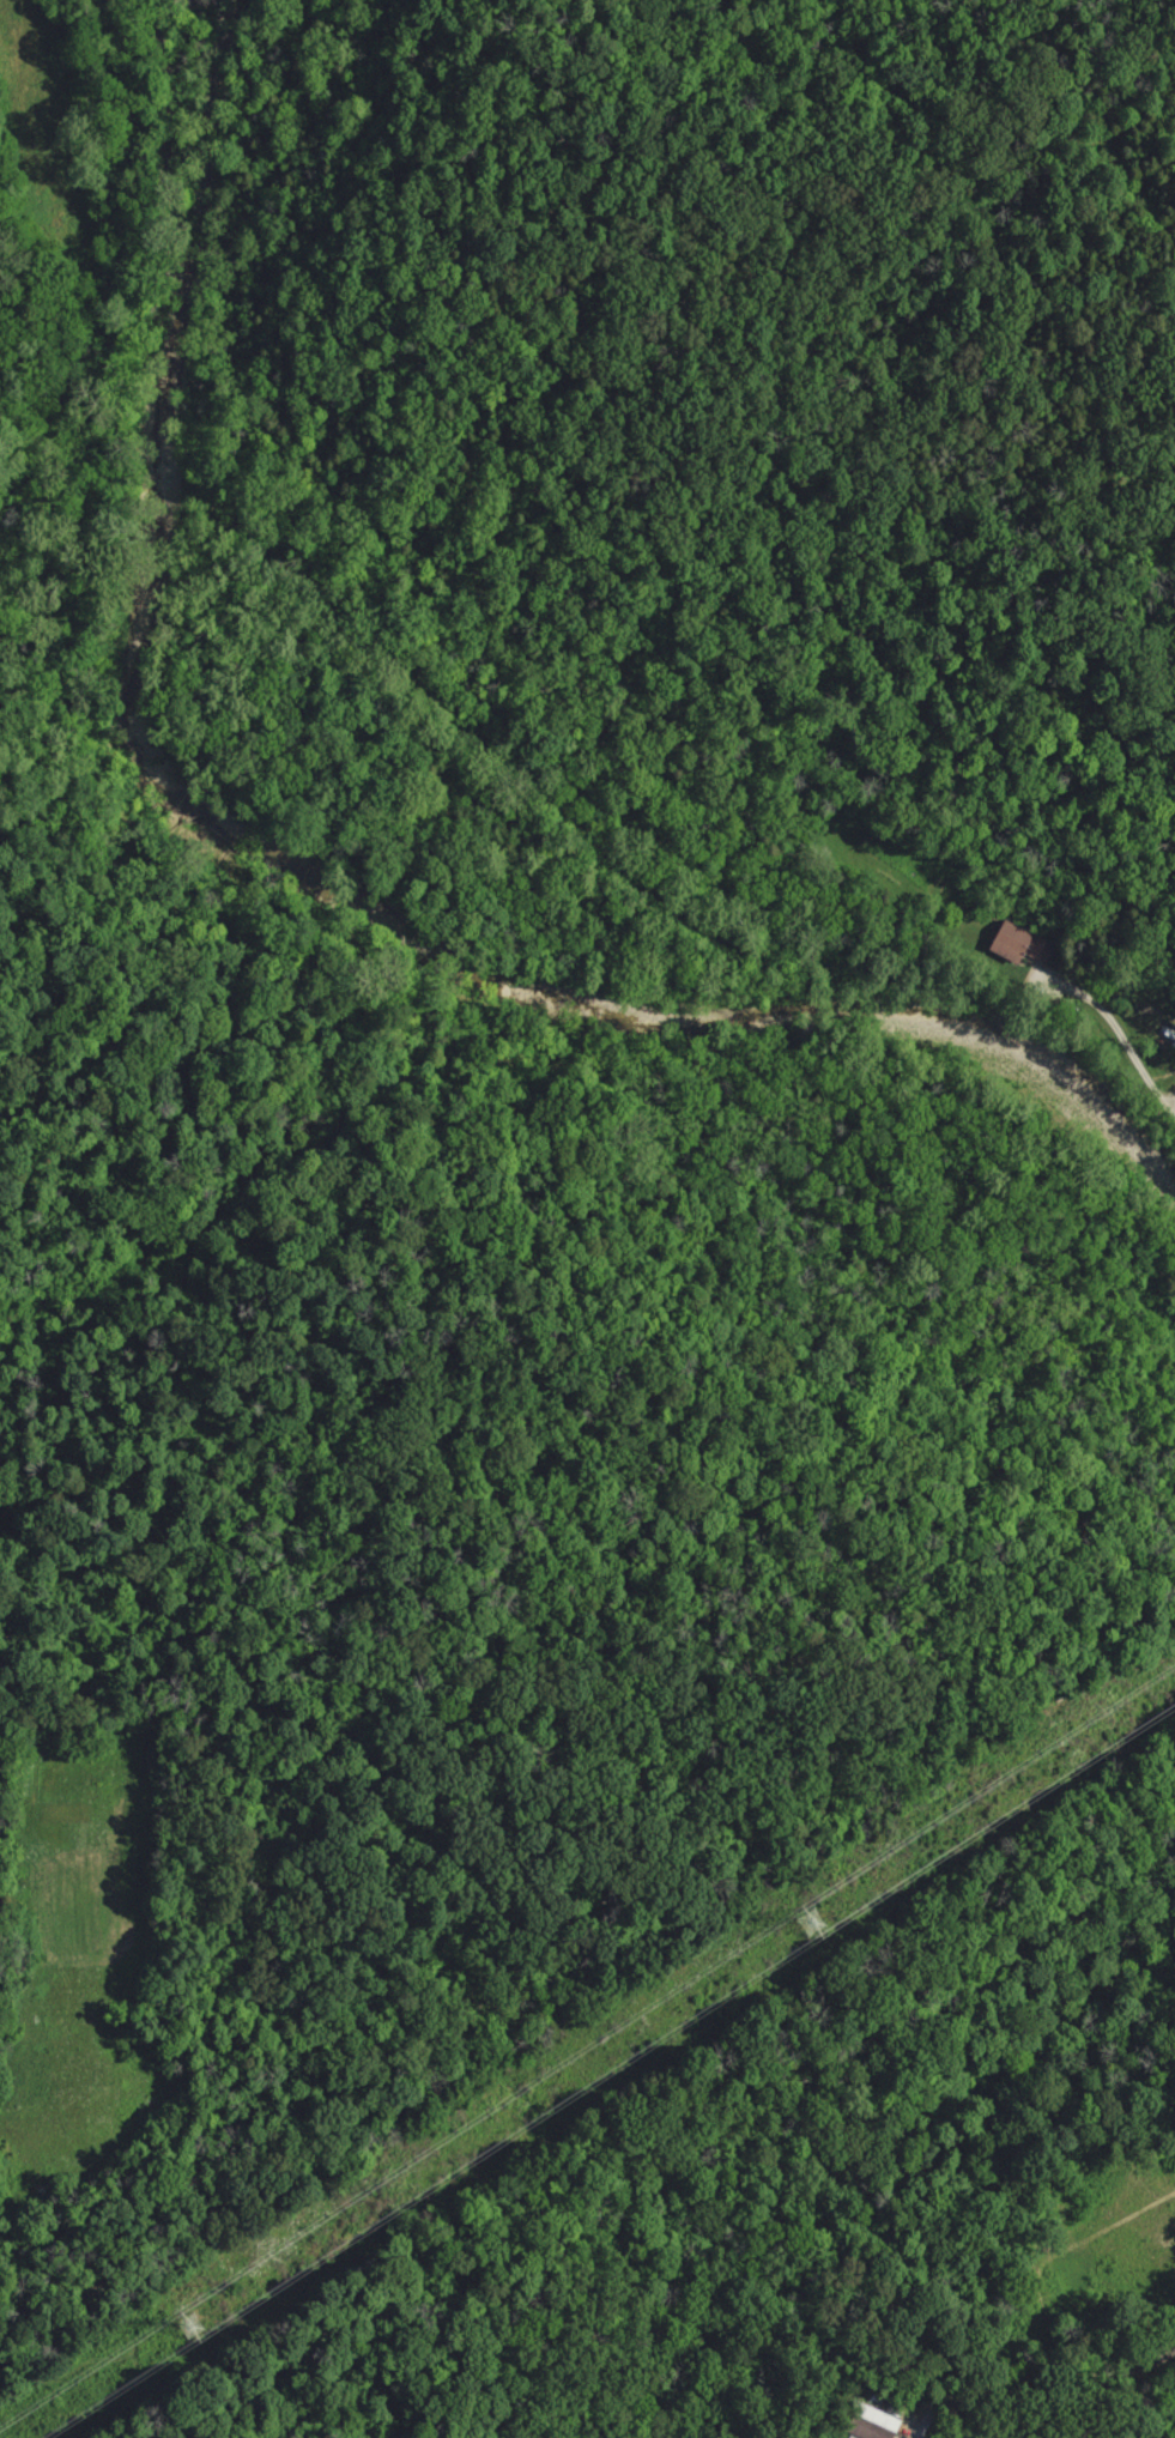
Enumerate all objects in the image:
building: (1025, 944)
road: (1088, 1131)
power tower: (807, 1920)
power tower: (184, 2324)
building: (874, 2422)

